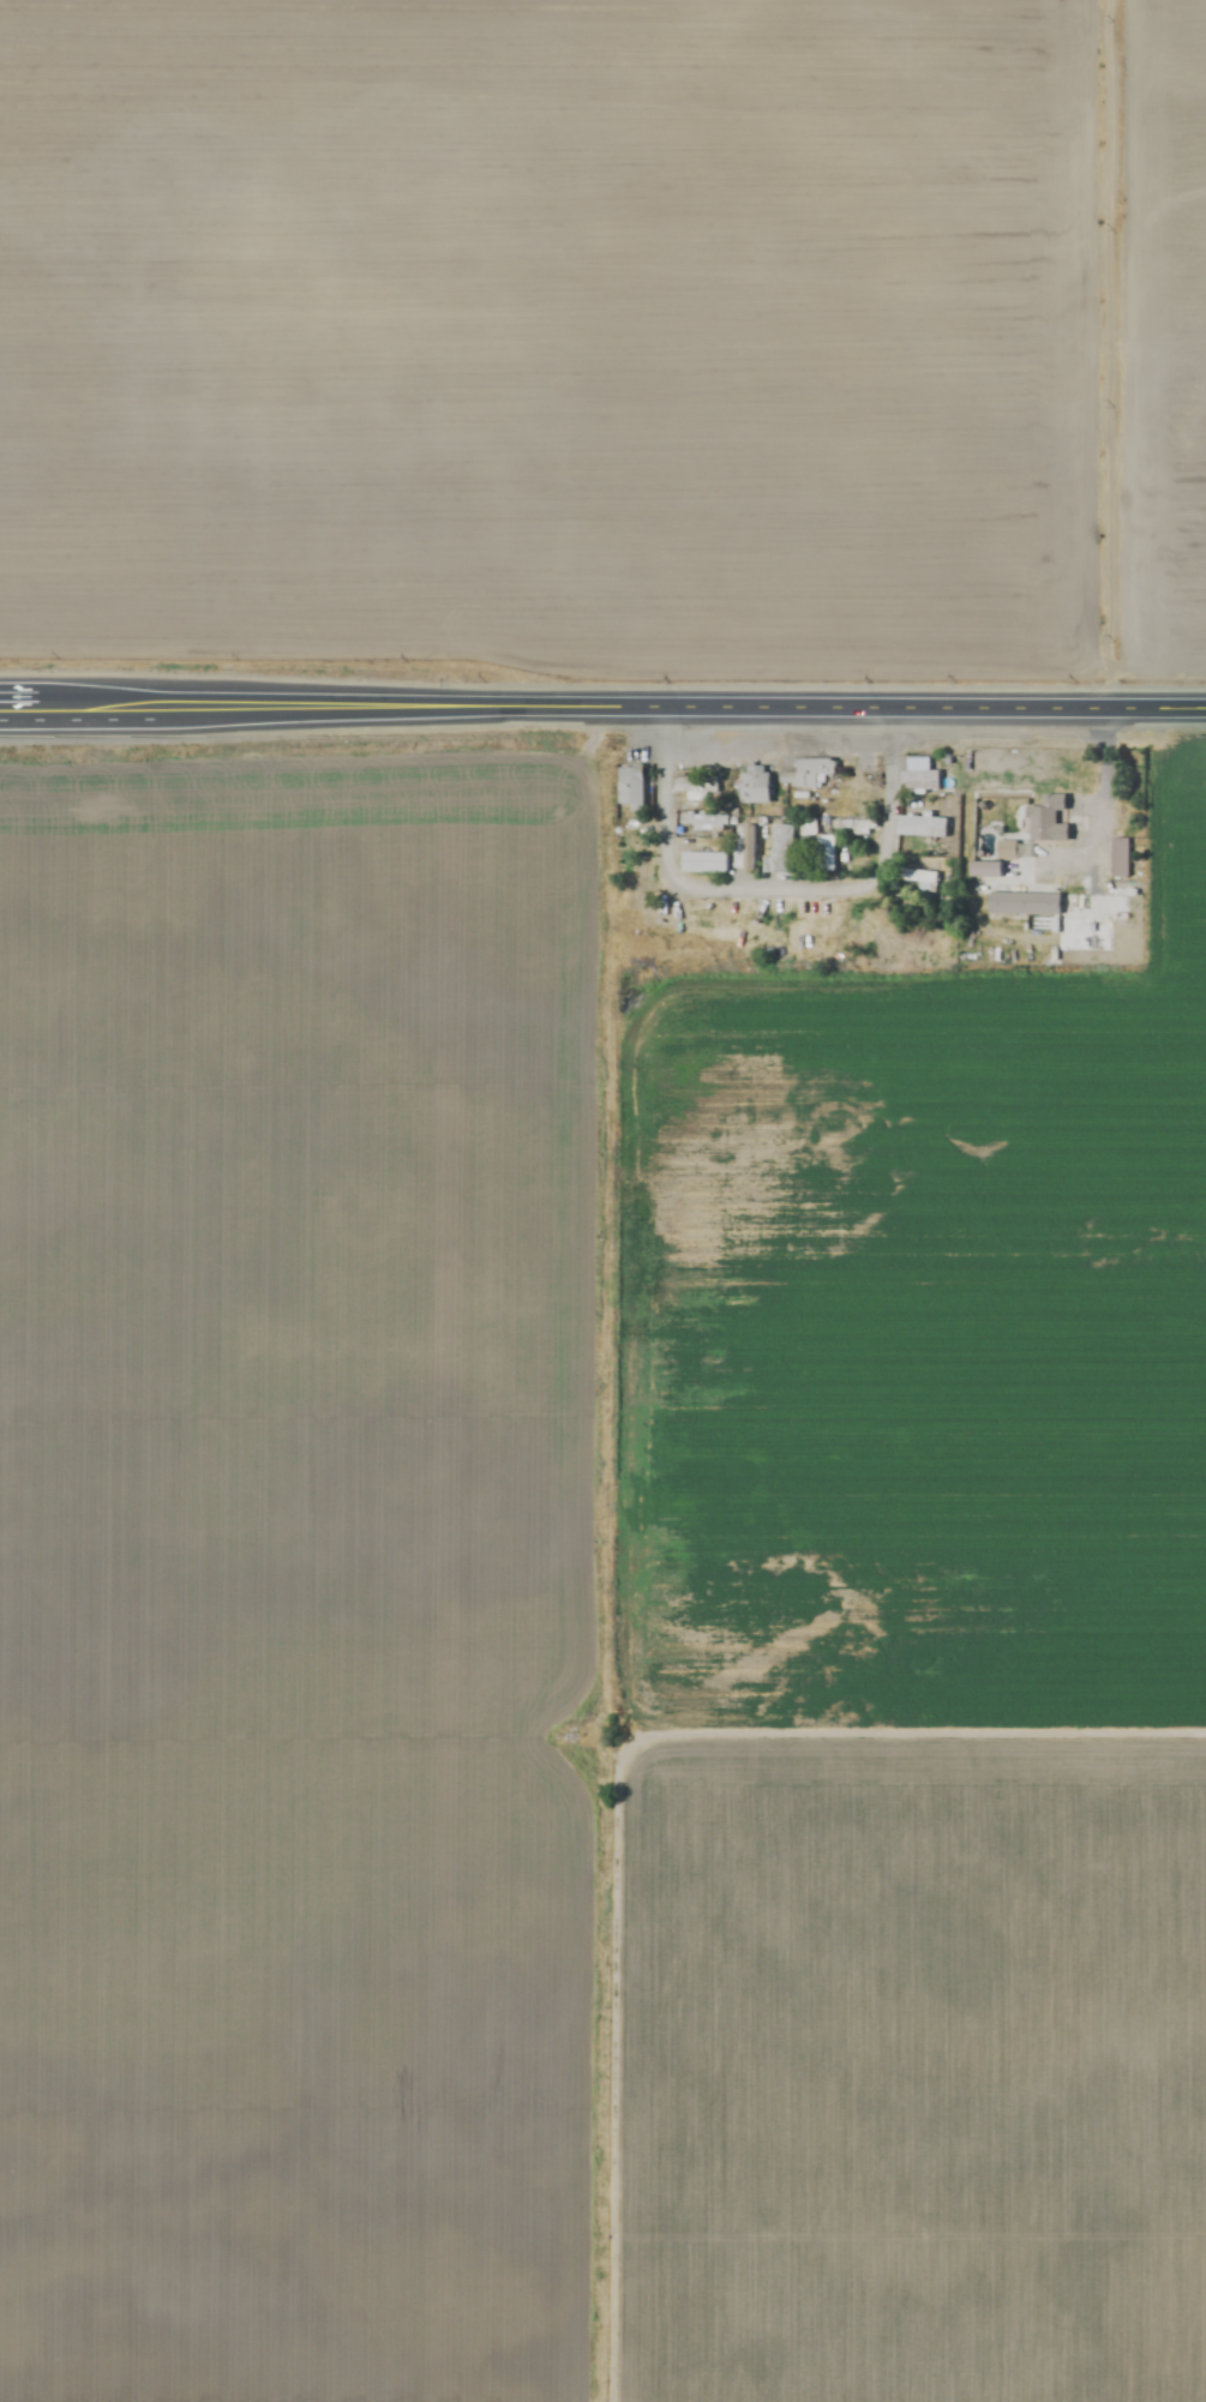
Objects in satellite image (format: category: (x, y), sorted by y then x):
road: (76, 708)
road: (678, 708)
building: (805, 774)
building: (920, 781)
building: (694, 785)
building: (752, 785)
building: (629, 787)
road: (1104, 797)
building: (1043, 822)
building: (702, 823)
building: (850, 827)
building: (919, 827)
building: (624, 828)
building: (744, 849)
building: (779, 849)
building: (827, 853)
building: (702, 864)
building: (914, 878)
road: (776, 884)
building: (632, 889)
building: (1021, 905)

